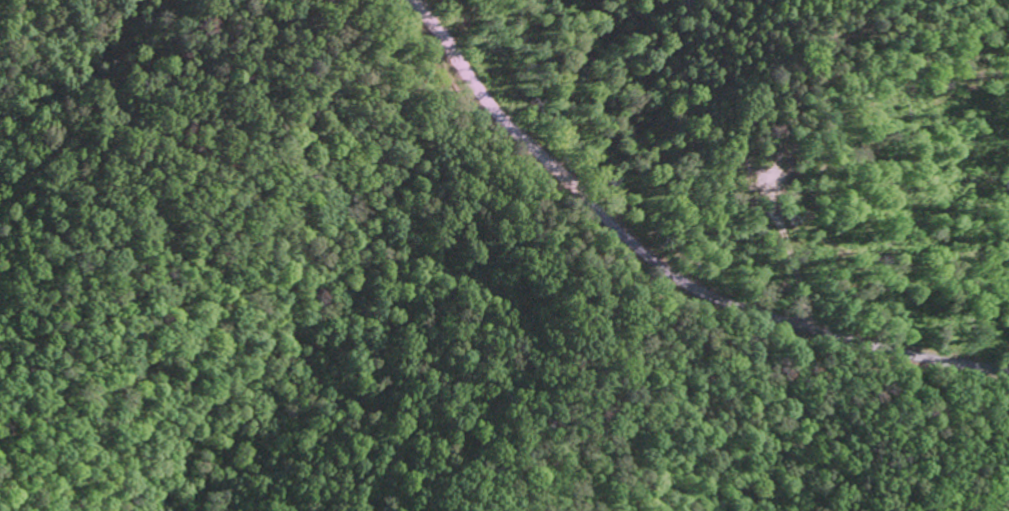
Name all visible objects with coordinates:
road: (491, 106)
road: (785, 316)

